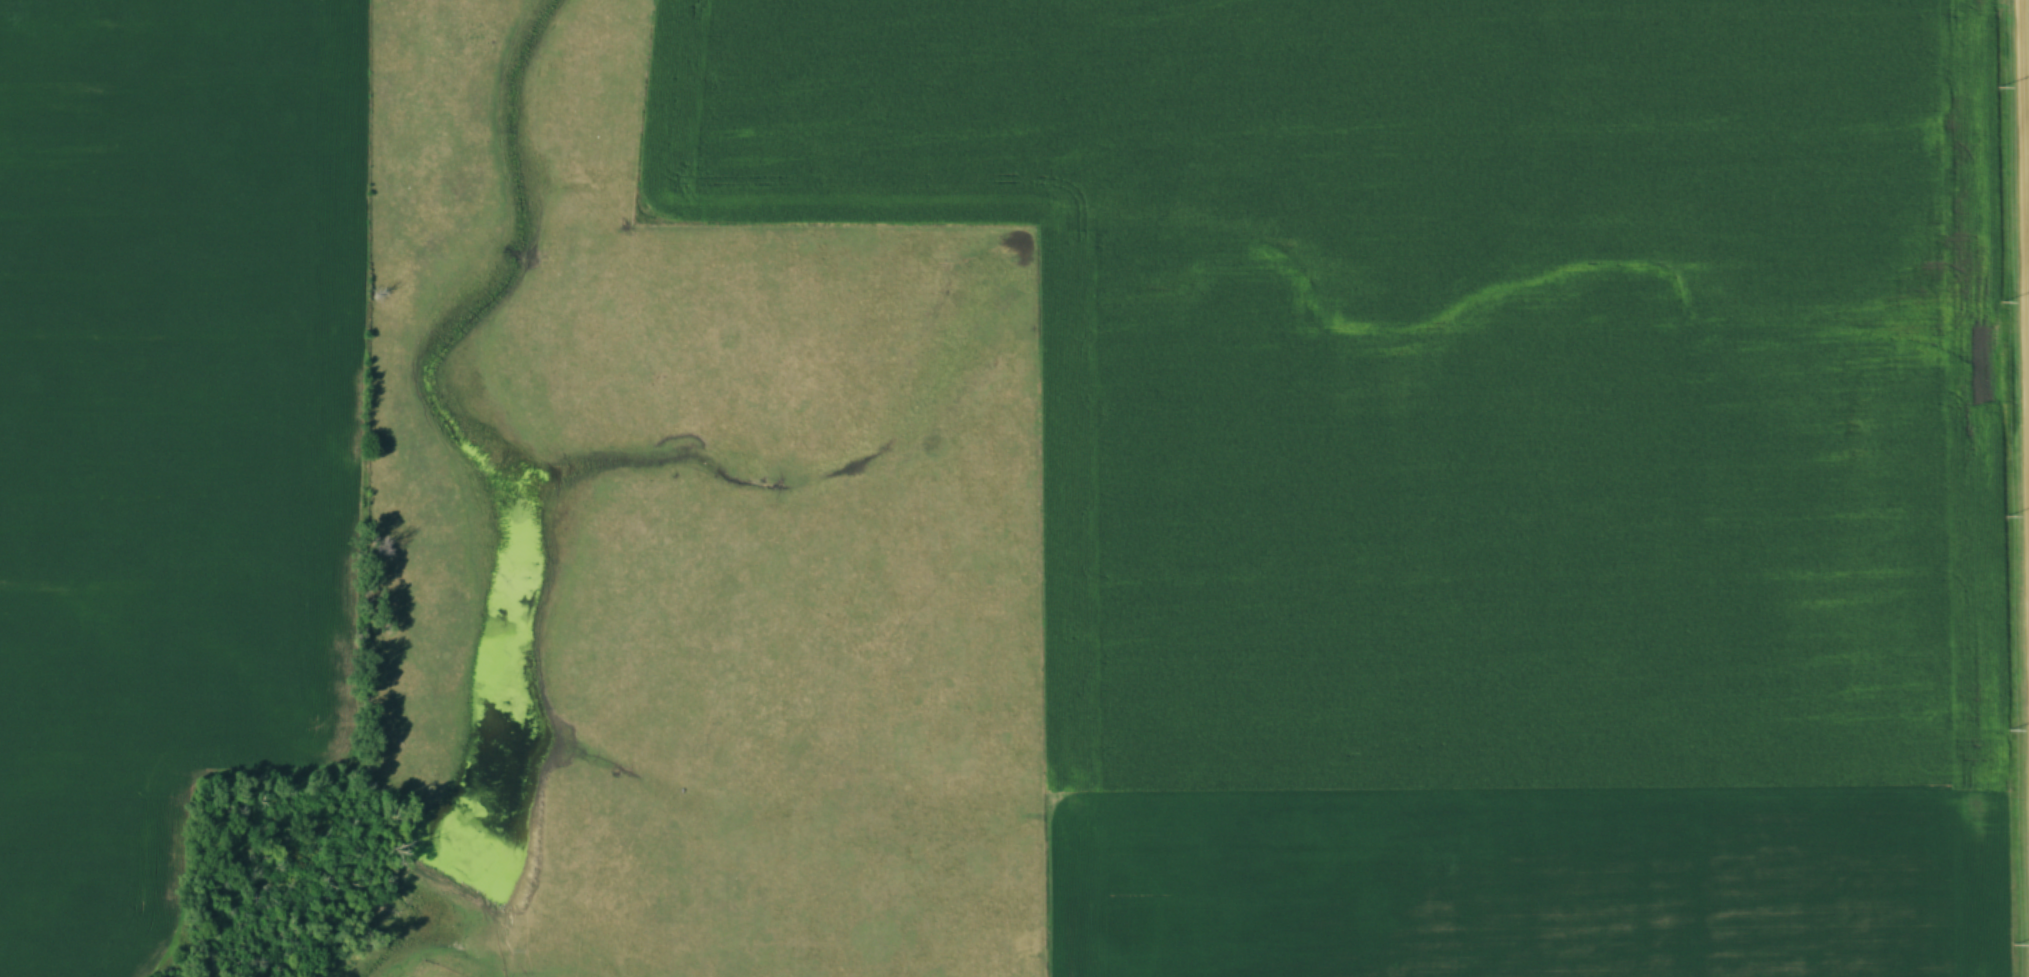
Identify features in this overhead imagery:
road: (2021, 392)

